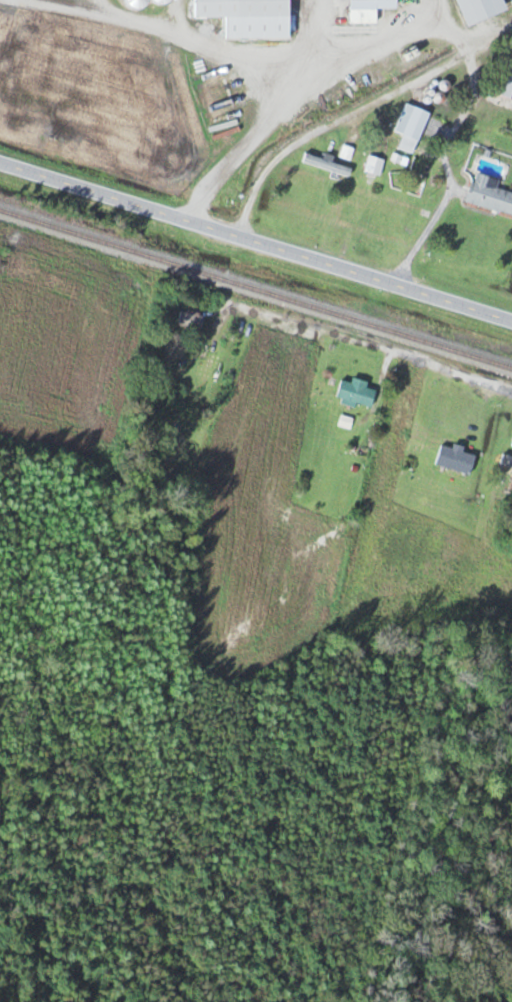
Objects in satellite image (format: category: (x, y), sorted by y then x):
building: (160, 1)
building: (139, 3)
building: (479, 9)
building: (368, 10)
building: (249, 17)
road: (392, 48)
road: (258, 70)
building: (505, 79)
road: (353, 110)
building: (412, 124)
building: (330, 164)
building: (376, 165)
road: (443, 170)
building: (490, 194)
road: (256, 241)
railway: (256, 285)
building: (192, 319)
road: (371, 342)
building: (210, 369)
building: (358, 393)
building: (456, 459)
building: (511, 510)

